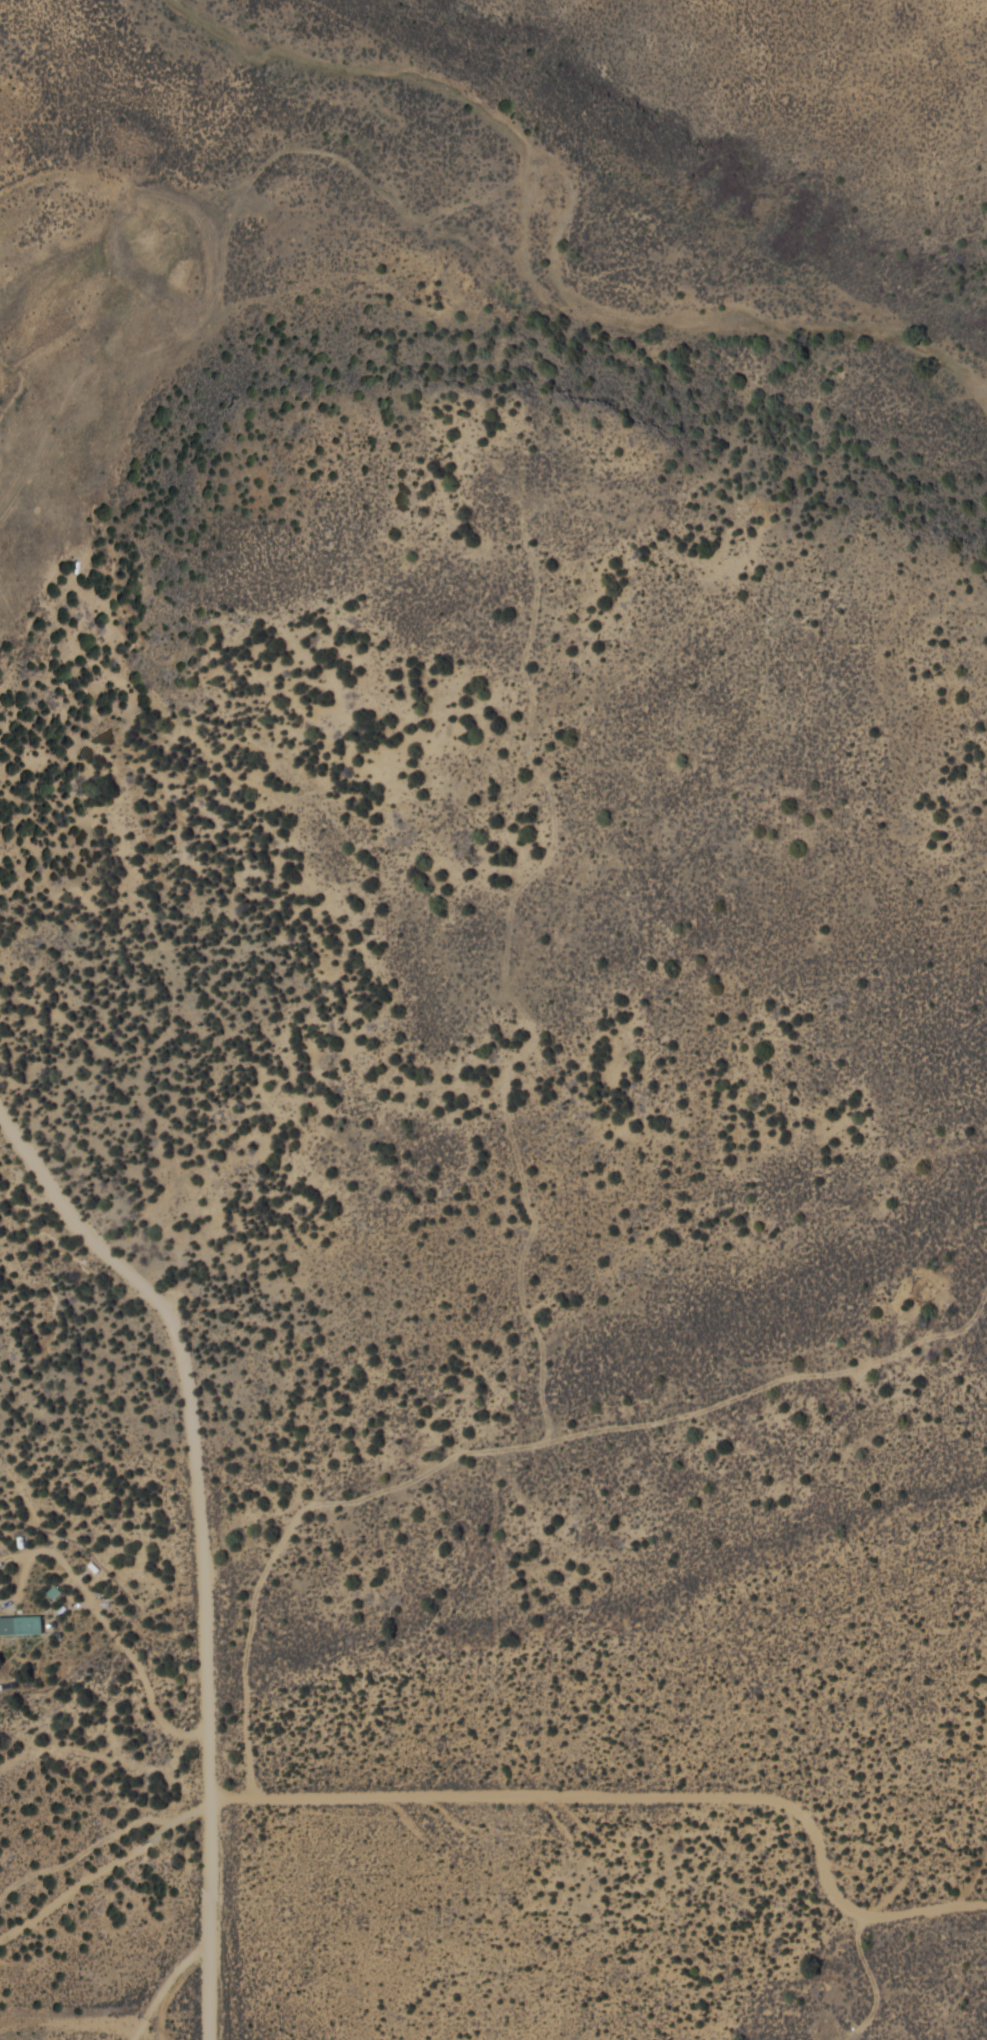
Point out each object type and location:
road: (398, 1325)
road: (199, 1545)
building: (56, 1591)
building: (22, 1624)
road: (602, 1896)

